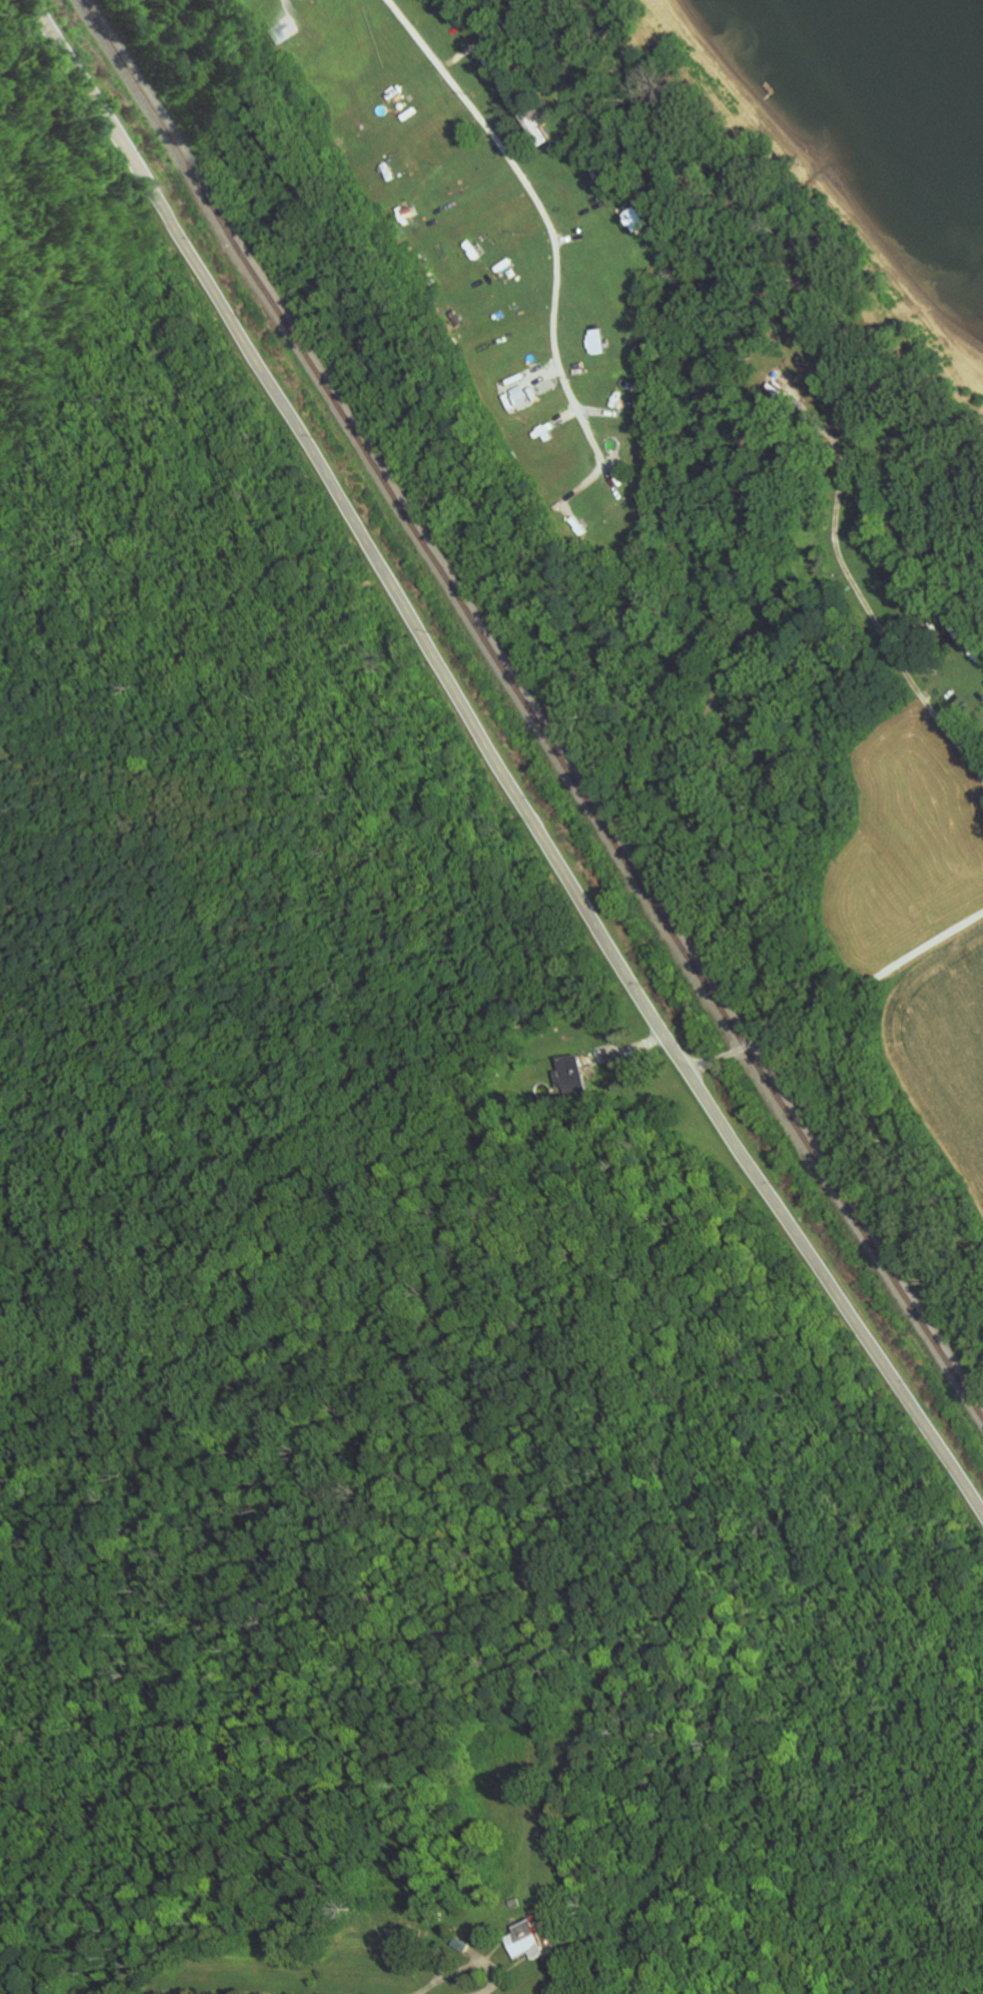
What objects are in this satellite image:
road: (540, 214)
road: (881, 625)
railway: (529, 709)
road: (496, 761)
road: (837, 997)
road: (463, 1965)

